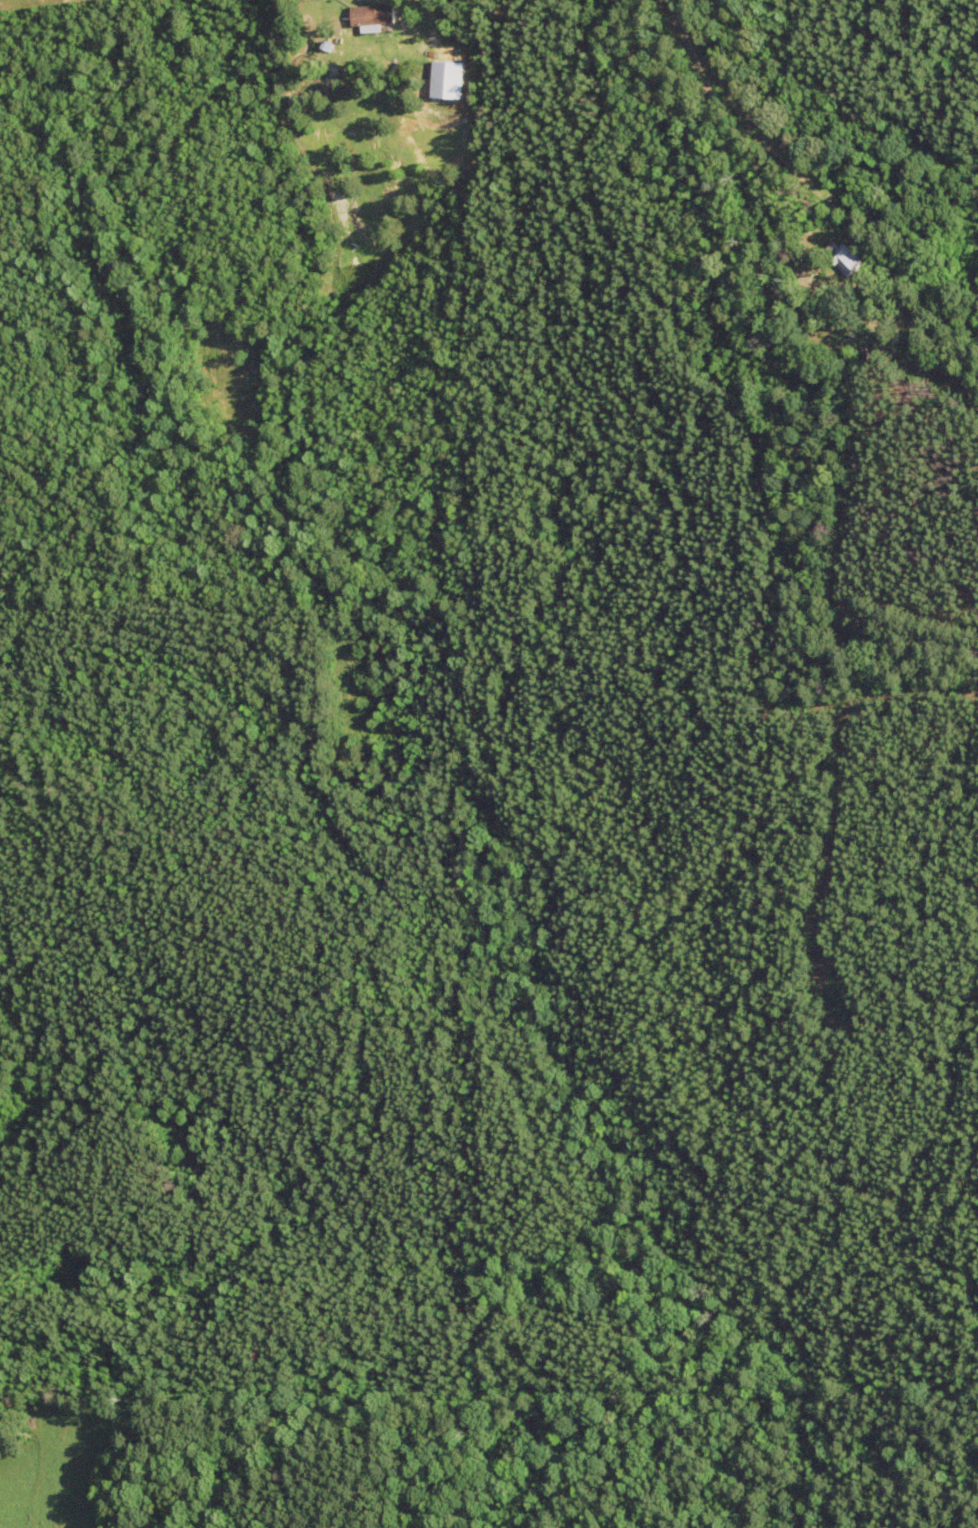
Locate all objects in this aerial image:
building: (373, 14)
road: (711, 96)
building: (845, 259)

